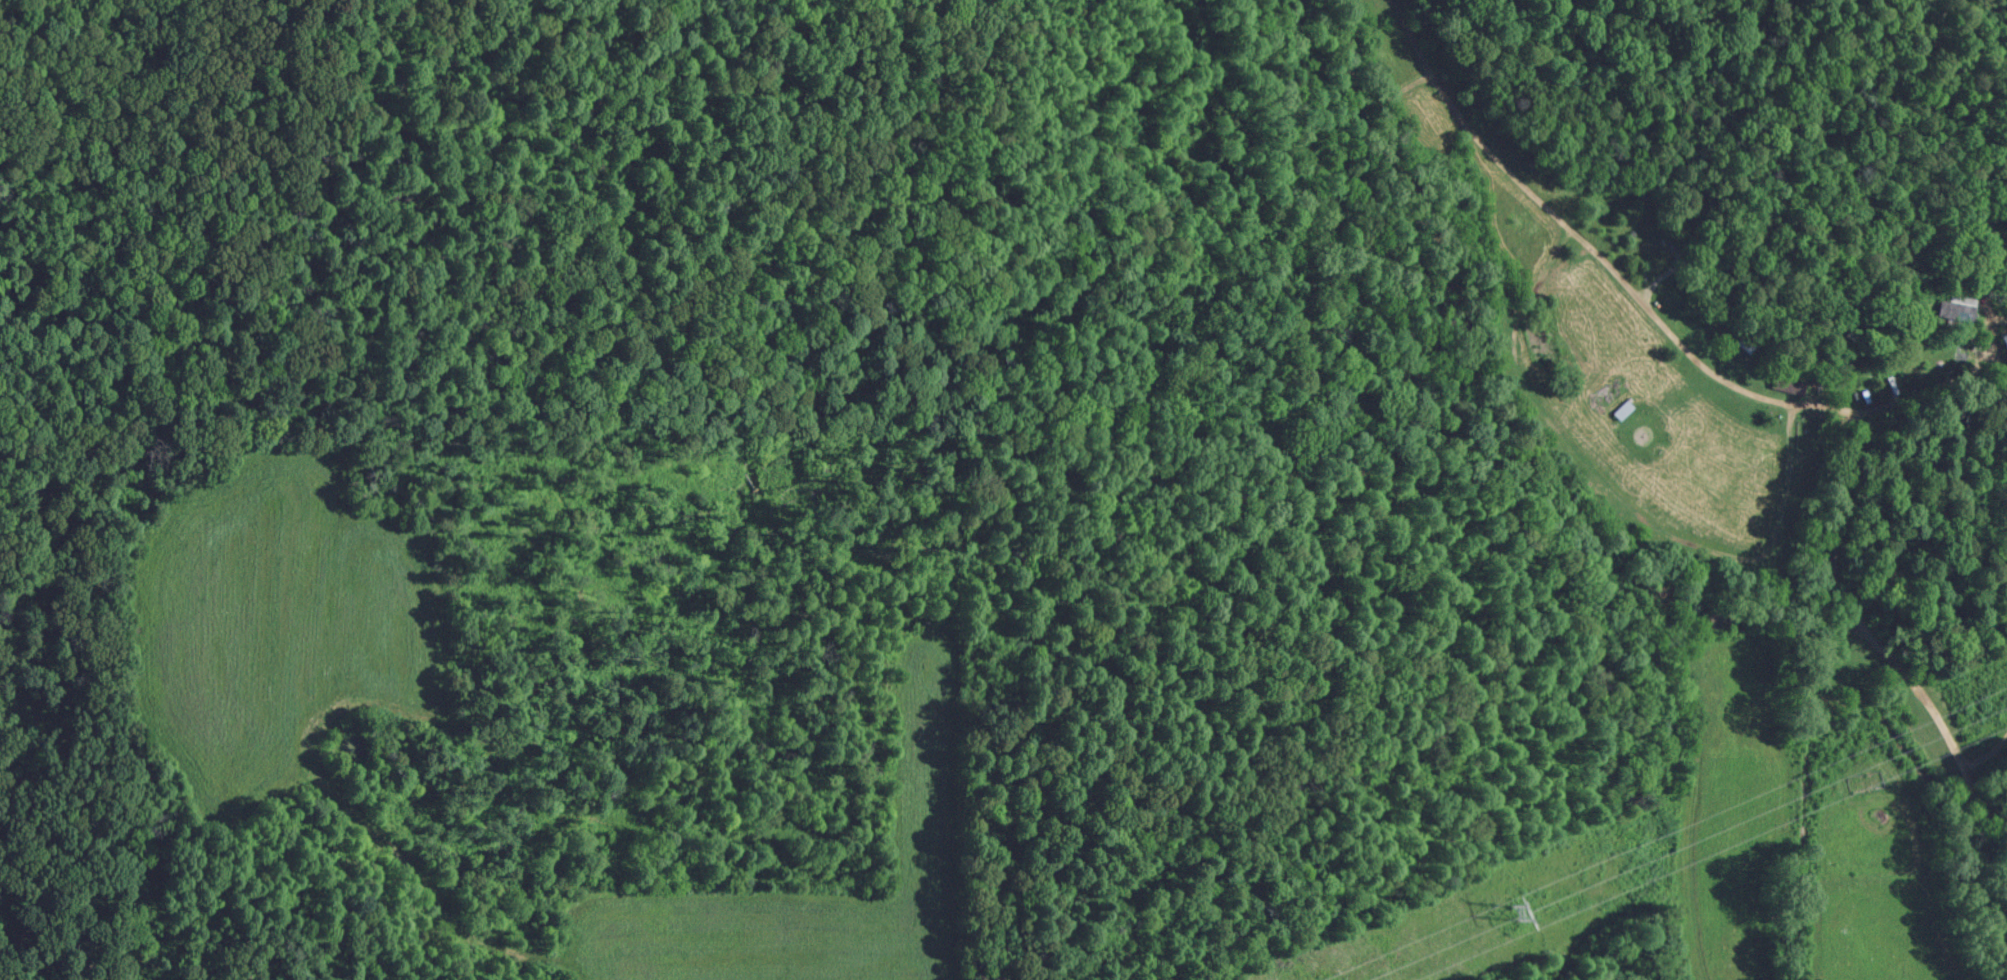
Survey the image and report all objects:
building: (1958, 306)
building: (2004, 340)
building: (1785, 382)
road: (1826, 651)
power tower: (1513, 913)

